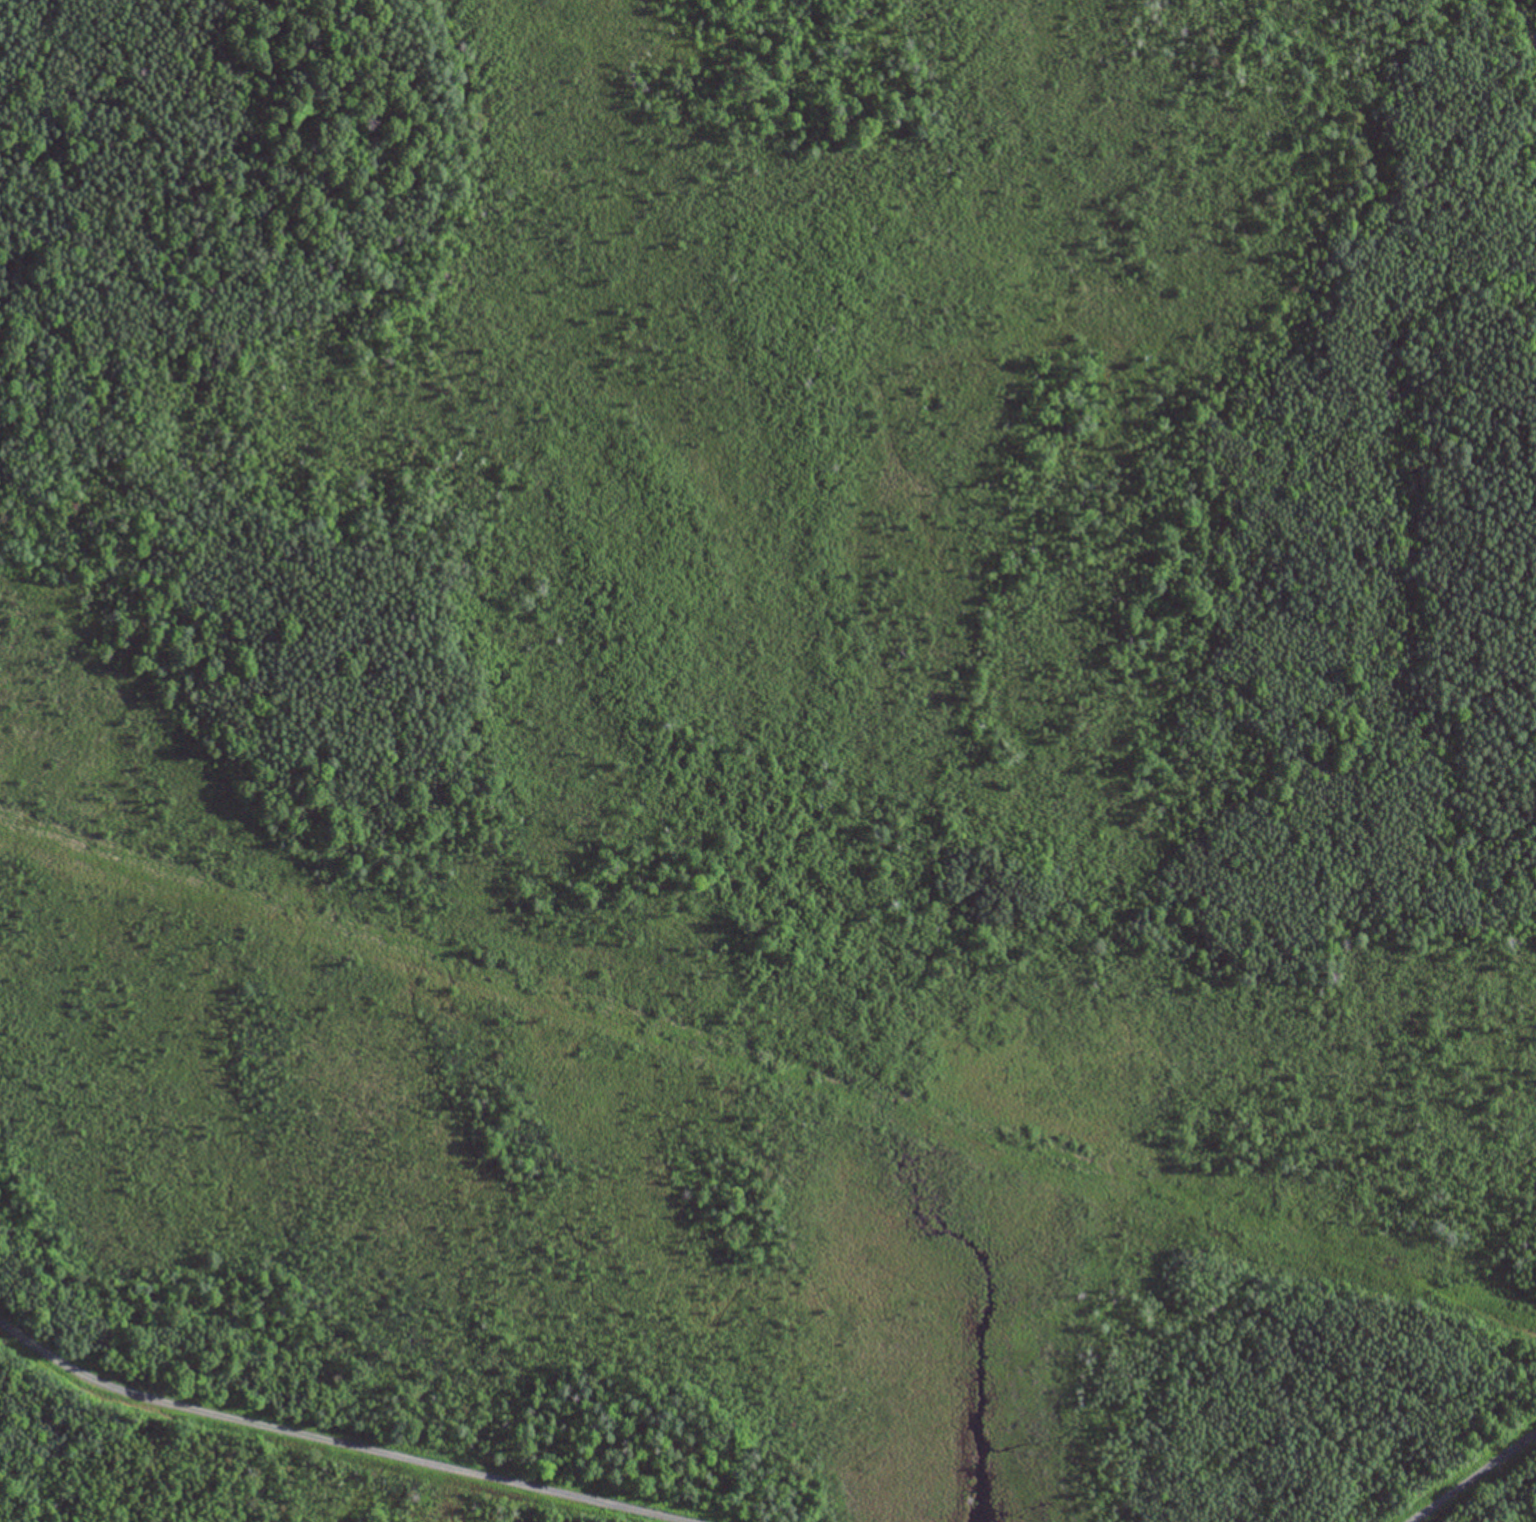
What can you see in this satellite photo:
road: (324, 1444)
road: (1475, 1479)

